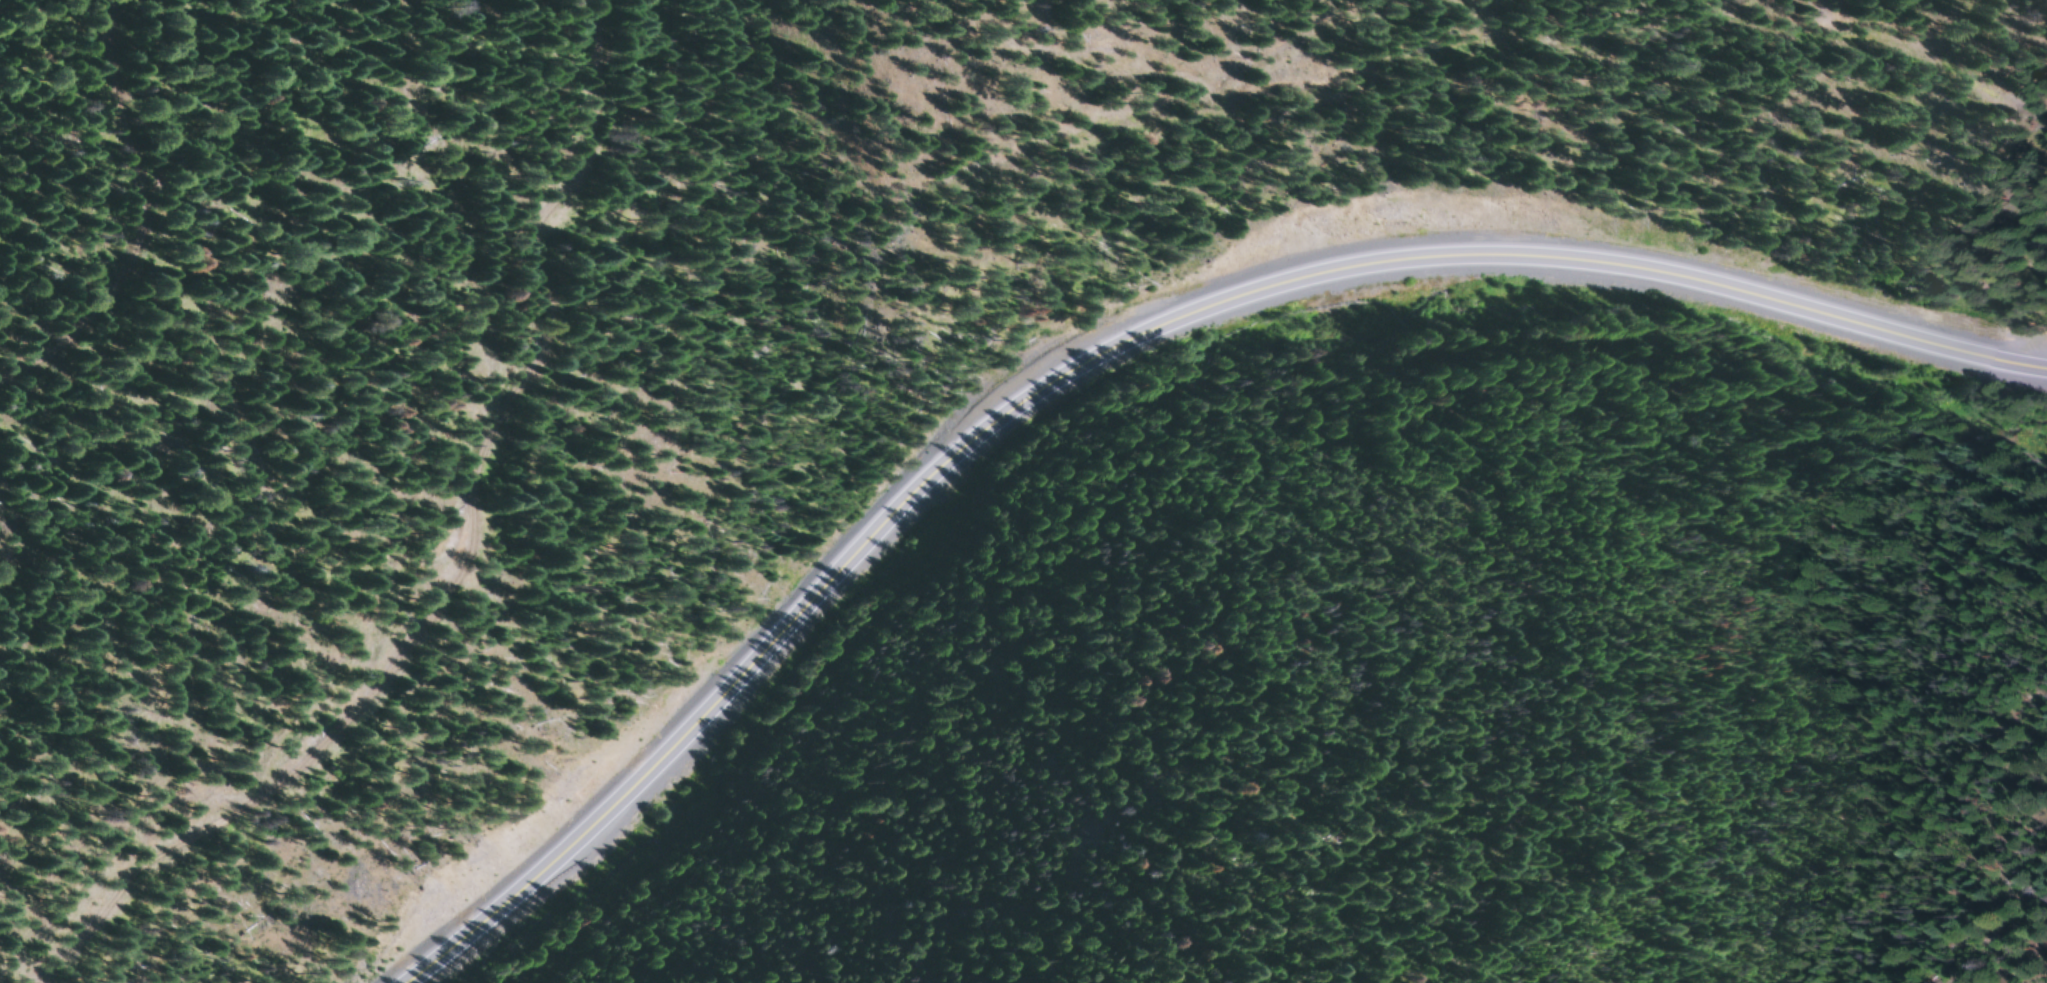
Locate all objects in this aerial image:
road: (1459, 40)
road: (97, 222)
road: (1127, 343)
road: (330, 521)

